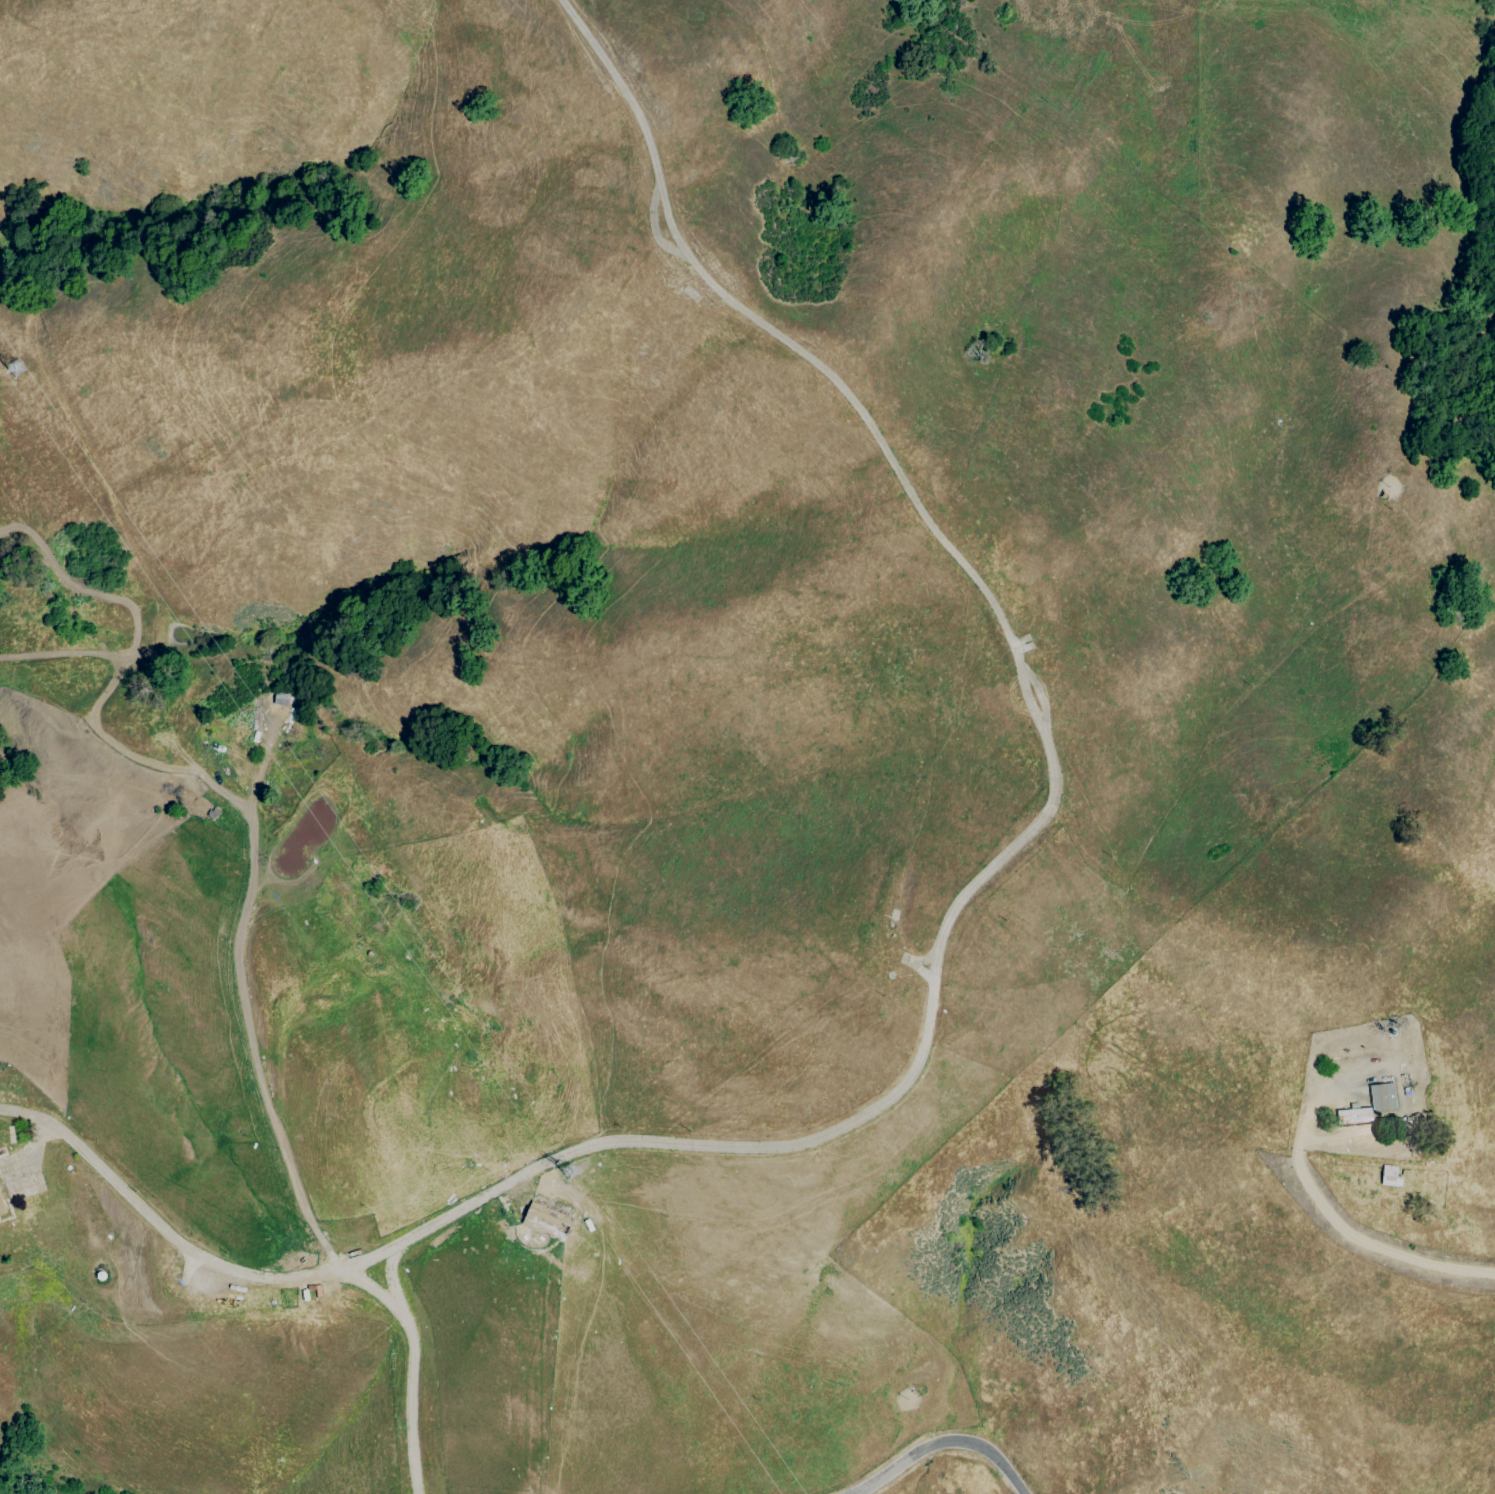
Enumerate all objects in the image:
road: (655, 229)
power tower: (15, 372)
road: (1048, 759)
road: (250, 871)
building: (1381, 1096)
building: (1352, 1115)
power tower: (573, 1181)
building: (1, 1208)
building: (546, 1223)
road: (182, 1246)
road: (1367, 1246)
road: (391, 1274)
road: (409, 1368)
road: (940, 1443)

